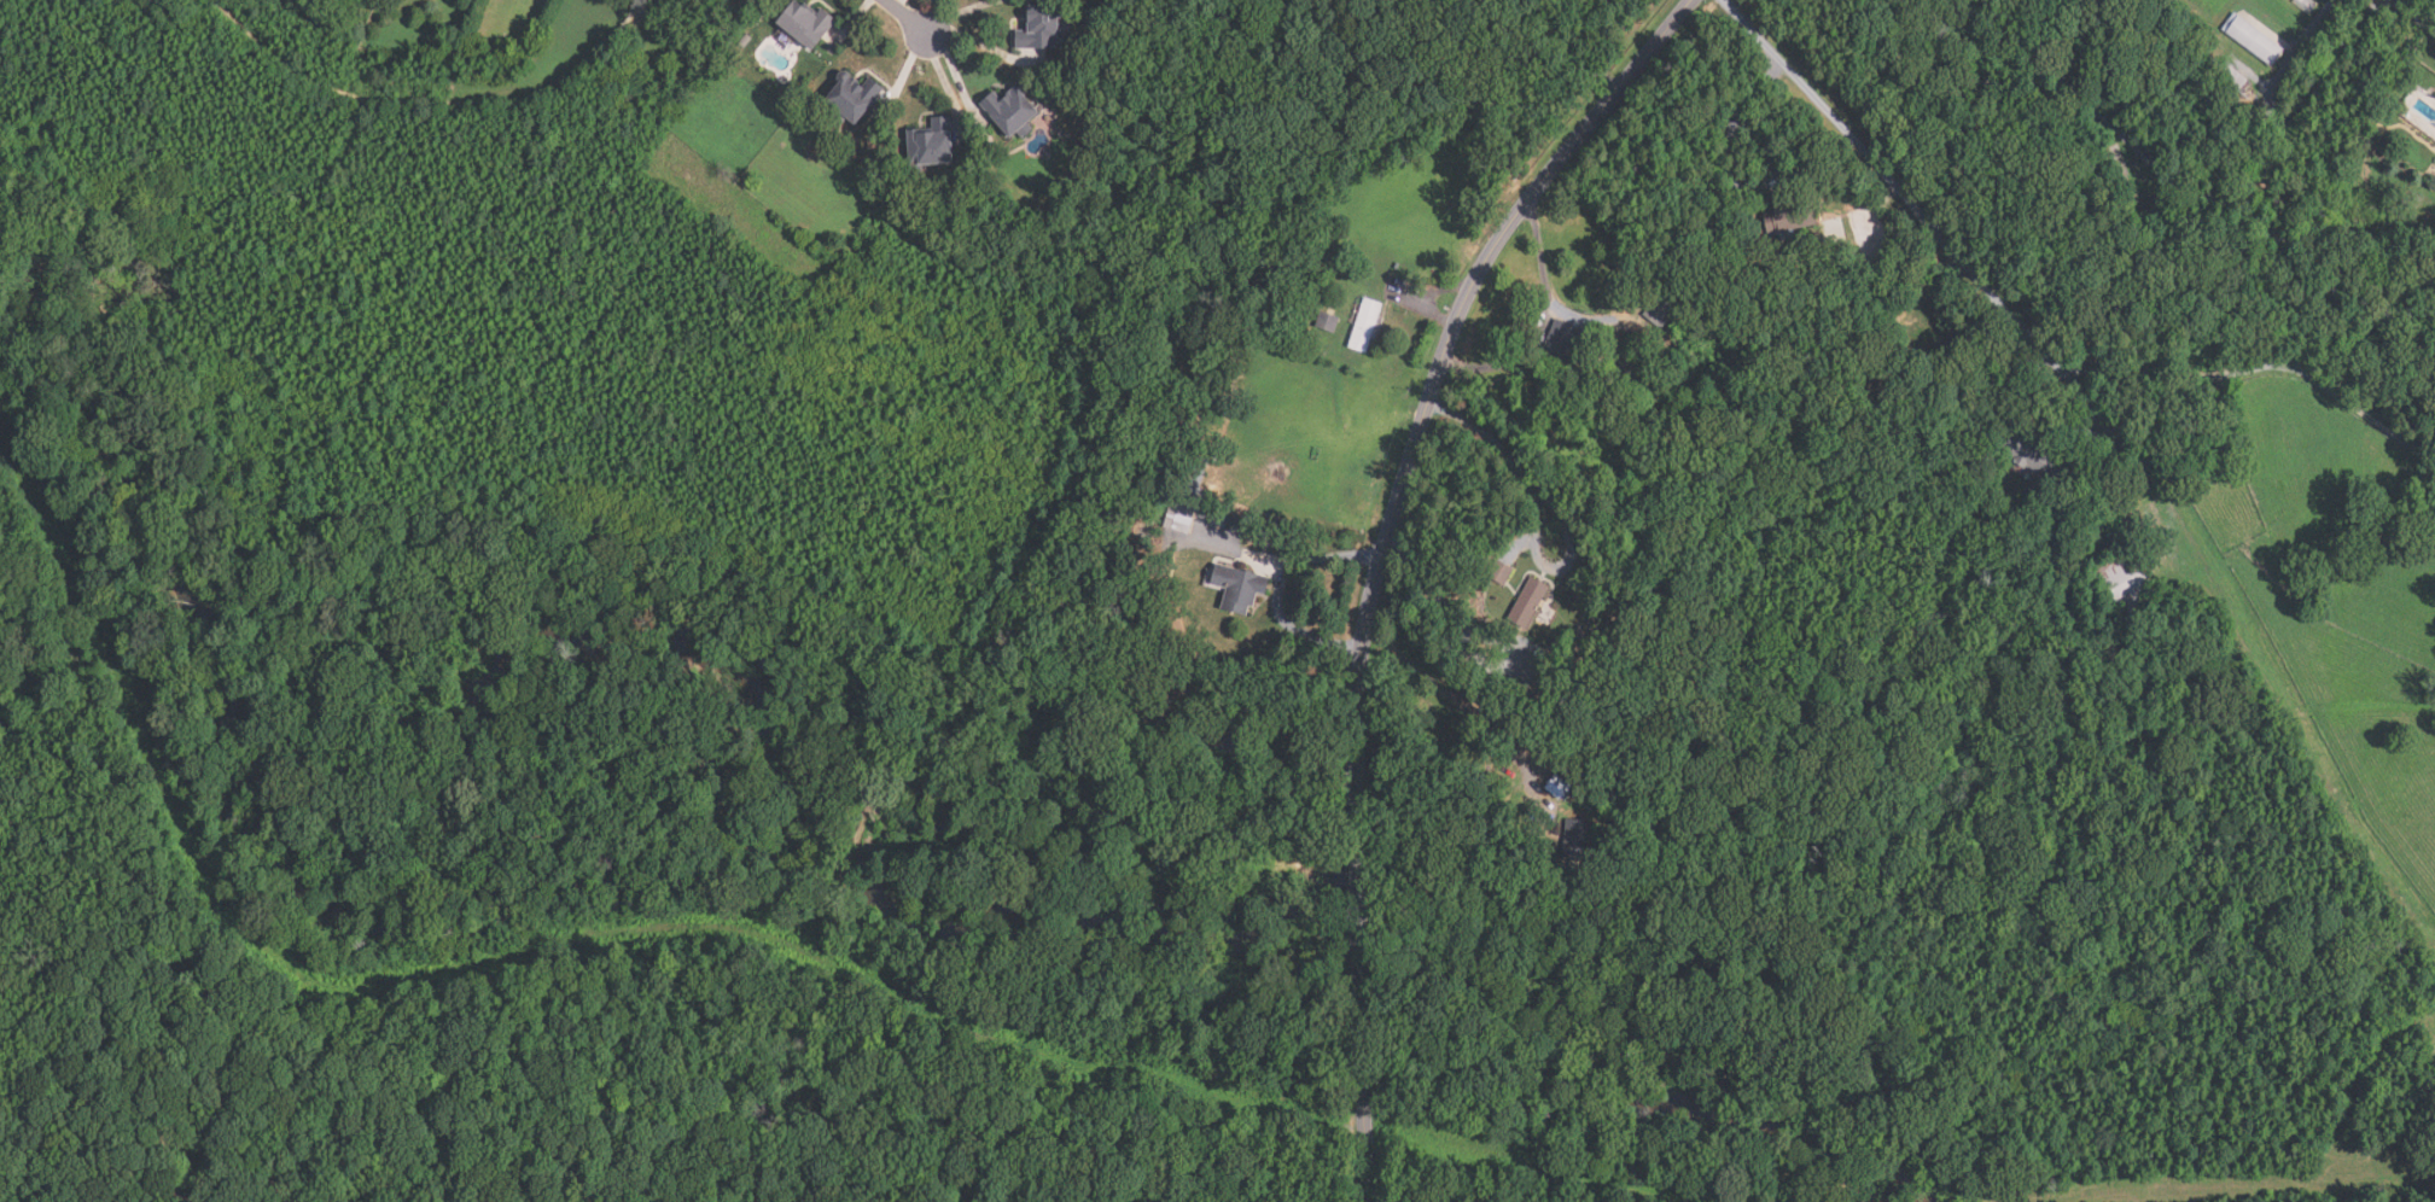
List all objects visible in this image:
building: (2303, 5)
road: (907, 16)
road: (2410, 21)
building: (805, 25)
building: (1045, 27)
building: (2249, 39)
road: (1557, 45)
building: (2227, 74)
building: (855, 98)
building: (1013, 109)
building: (2367, 134)
building: (933, 145)
road: (2165, 174)
road: (1728, 176)
building: (2154, 204)
building: (1794, 215)
road: (1426, 308)
building: (1814, 308)
building: (1662, 309)
building: (1328, 321)
road: (1543, 322)
building: (1368, 325)
road: (2342, 329)
road: (2025, 332)
building: (1566, 344)
road: (1434, 381)
building: (1671, 432)
road: (2080, 437)
building: (2029, 451)
building: (2209, 467)
road: (1551, 498)
building: (1179, 517)
river: (141, 520)
building: (1234, 525)
building: (1501, 573)
building: (2125, 583)
building: (1240, 588)
road: (1278, 588)
building: (1531, 602)
road: (1463, 640)
road: (1447, 693)
river: (809, 717)
river: (448, 755)
building: (1561, 787)
river: (735, 792)
building: (1575, 793)
river: (206, 797)
river: (857, 799)
building: (1572, 801)
river: (837, 823)
building: (1577, 840)
road: (1358, 868)
river: (1403, 891)
road: (1363, 1050)

